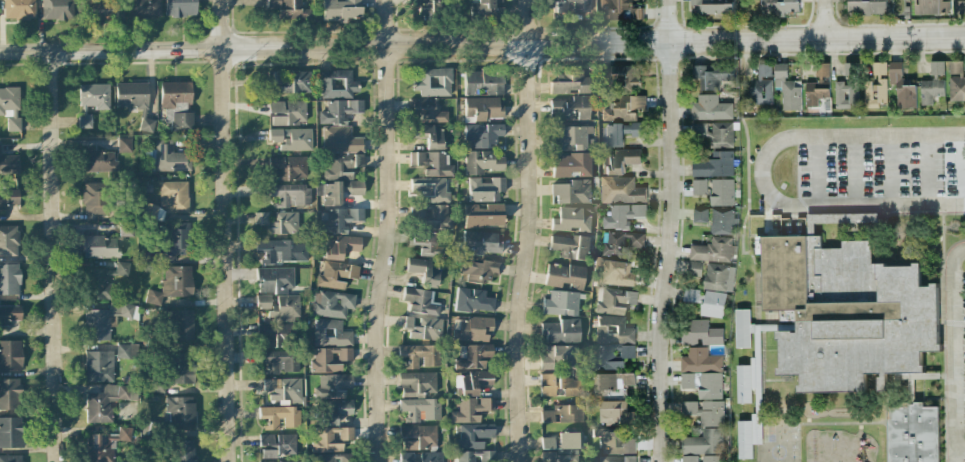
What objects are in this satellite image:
building: (428, 6)
building: (712, 6)
building: (779, 6)
building: (866, 6)
building: (959, 6)
building: (144, 7)
building: (558, 7)
building: (931, 7)
building: (179, 8)
building: (487, 8)
building: (19, 9)
building: (288, 9)
building: (618, 9)
building: (341, 10)
building: (96, 13)
road: (823, 19)
road: (482, 43)
building: (937, 67)
building: (955, 67)
building: (714, 75)
building: (291, 82)
building: (433, 82)
building: (482, 83)
building: (570, 83)
building: (337, 84)
building: (818, 85)
building: (761, 86)
building: (877, 86)
building: (901, 86)
building: (847, 87)
building: (787, 88)
building: (957, 89)
building: (931, 90)
building: (94, 95)
building: (175, 95)
building: (134, 101)
building: (10, 107)
building: (571, 108)
building: (710, 108)
building: (483, 109)
building: (623, 109)
building: (427, 110)
building: (339, 111)
building: (287, 112)
building: (182, 121)
building: (633, 128)
building: (613, 134)
building: (721, 134)
building: (483, 135)
building: (430, 136)
building: (571, 137)
building: (291, 139)
building: (340, 140)
building: (124, 145)
building: (0, 146)
building: (170, 158)
building: (100, 161)
building: (619, 161)
building: (482, 162)
building: (432, 163)
building: (8, 164)
building: (714, 164)
building: (571, 165)
building: (288, 168)
road: (853, 169)
road: (888, 169)
road: (926, 169)
road: (815, 170)
parking lot: (869, 170)
road: (759, 171)
building: (339, 178)
building: (699, 187)
building: (431, 189)
building: (485, 189)
building: (620, 190)
building: (570, 192)
building: (721, 192)
road: (795, 194)
building: (292, 195)
building: (174, 196)
building: (8, 198)
building: (95, 198)
road: (755, 213)
road: (865, 214)
building: (622, 215)
building: (700, 215)
road: (765, 215)
building: (484, 216)
building: (435, 217)
building: (846, 218)
building: (339, 219)
building: (572, 220)
building: (722, 220)
building: (279, 223)
building: (125, 230)
road: (225, 230)
road: (388, 231)
road: (529, 231)
road: (669, 231)
building: (179, 239)
building: (8, 241)
building: (620, 242)
building: (481, 243)
building: (340, 246)
building: (101, 247)
building: (431, 247)
building: (570, 247)
building: (713, 250)
building: (283, 251)
road: (741, 253)
road: (54, 257)
building: (479, 270)
building: (424, 271)
building: (614, 272)
building: (336, 275)
building: (564, 275)
building: (718, 277)
building: (9, 279)
building: (99, 279)
building: (274, 280)
building: (172, 284)
building: (473, 301)
building: (615, 301)
building: (706, 301)
building: (560, 303)
building: (331, 304)
building: (845, 309)
building: (9, 314)
building: (421, 315)
building: (105, 320)
road: (948, 323)
building: (182, 326)
building: (741, 328)
building: (473, 329)
building: (613, 330)
building: (559, 331)
building: (330, 333)
building: (700, 333)
road: (943, 333)
building: (276, 335)
road: (954, 350)
building: (126, 351)
building: (10, 356)
building: (419, 356)
building: (612, 356)
building: (474, 357)
building: (558, 358)
building: (329, 359)
building: (700, 360)
building: (279, 361)
building: (98, 366)
building: (179, 368)
building: (613, 380)
building: (471, 383)
building: (702, 383)
building: (743, 383)
building: (417, 384)
building: (334, 385)
building: (561, 386)
building: (282, 391)
building: (9, 392)
road: (882, 399)
building: (107, 402)
building: (420, 409)
building: (470, 409)
building: (180, 410)
building: (337, 410)
building: (614, 412)
building: (563, 414)
building: (279, 416)
road: (818, 423)
building: (704, 427)
building: (11, 432)
building: (913, 434)
building: (474, 435)
building: (748, 436)
building: (420, 437)
building: (606, 437)
building: (331, 439)
building: (265, 441)
building: (560, 441)
building: (285, 444)
building: (105, 445)
building: (625, 445)
building: (182, 451)
building: (268, 454)
road: (956, 455)
building: (559, 456)
building: (427, 457)
building: (11, 458)
building: (332, 458)
building: (616, 458)
building: (704, 458)
road: (955, 460)
building: (295, 461)

